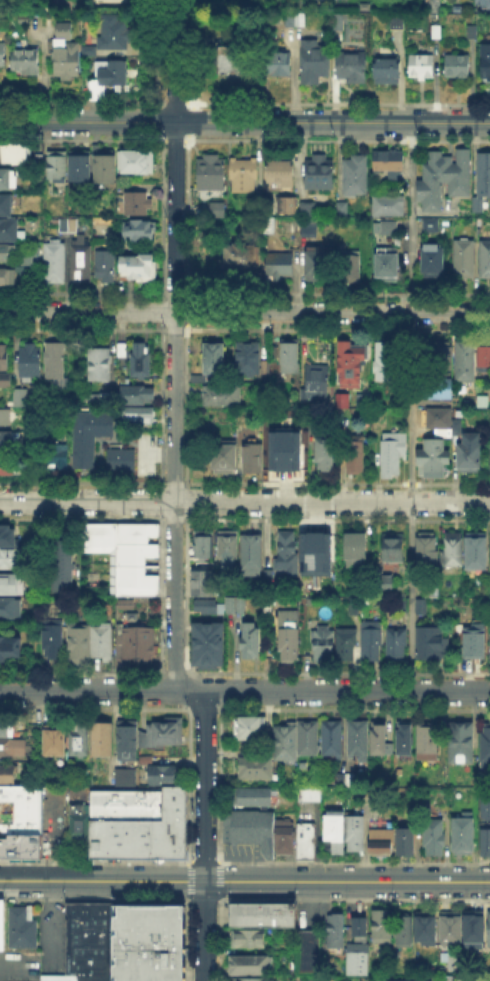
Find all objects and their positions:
building: (485, 3)
building: (435, 5)
building: (295, 21)
building: (397, 23)
building: (339, 24)
building: (65, 33)
building: (439, 33)
building: (115, 34)
building: (473, 34)
building: (92, 52)
building: (3, 56)
building: (231, 61)
building: (28, 63)
building: (68, 63)
building: (315, 63)
building: (278, 64)
building: (486, 64)
building: (422, 68)
building: (457, 68)
building: (350, 70)
building: (387, 70)
building: (107, 80)
road: (245, 122)
building: (12, 154)
building: (37, 160)
building: (136, 163)
building: (106, 166)
building: (391, 166)
building: (55, 168)
building: (81, 168)
building: (320, 173)
building: (212, 174)
building: (279, 174)
building: (243, 176)
building: (355, 177)
building: (445, 179)
building: (9, 180)
building: (483, 181)
building: (7, 205)
building: (138, 205)
building: (389, 206)
building: (288, 207)
building: (215, 209)
building: (309, 211)
building: (343, 211)
building: (67, 226)
building: (306, 226)
building: (430, 227)
building: (9, 229)
building: (140, 231)
building: (389, 232)
building: (5, 255)
building: (34, 256)
building: (244, 258)
building: (465, 260)
building: (485, 261)
building: (313, 262)
building: (82, 263)
building: (433, 263)
building: (55, 264)
building: (387, 265)
building: (106, 267)
building: (281, 268)
building: (348, 269)
building: (140, 270)
building: (24, 273)
building: (7, 280)
road: (244, 311)
road: (174, 344)
building: (123, 352)
building: (438, 357)
building: (247, 358)
building: (291, 358)
building: (31, 359)
building: (213, 359)
building: (485, 359)
building: (141, 362)
building: (465, 362)
building: (386, 364)
building: (5, 365)
building: (101, 365)
building: (57, 366)
building: (352, 366)
building: (266, 368)
building: (317, 380)
building: (436, 390)
building: (137, 396)
building: (222, 396)
building: (103, 397)
building: (21, 399)
building: (365, 402)
building: (343, 403)
road: (410, 406)
building: (6, 418)
building: (138, 418)
building: (440, 420)
building: (86, 434)
building: (6, 442)
building: (326, 453)
building: (275, 454)
building: (355, 454)
building: (54, 455)
building: (470, 455)
building: (393, 456)
building: (434, 457)
building: (489, 457)
building: (118, 458)
building: (223, 458)
building: (252, 460)
building: (7, 466)
road: (244, 500)
building: (7, 535)
building: (205, 545)
building: (319, 549)
building: (393, 550)
building: (228, 552)
building: (356, 552)
building: (453, 552)
building: (427, 553)
building: (476, 553)
building: (253, 554)
building: (288, 555)
building: (10, 558)
building: (121, 561)
building: (60, 568)
building: (380, 576)
building: (201, 583)
building: (269, 583)
building: (12, 586)
building: (310, 590)
building: (236, 606)
building: (208, 608)
building: (354, 609)
building: (11, 611)
building: (288, 636)
building: (54, 641)
building: (489, 641)
building: (81, 642)
building: (102, 643)
building: (251, 643)
building: (370, 643)
building: (474, 643)
building: (136, 644)
building: (323, 644)
building: (346, 645)
building: (396, 645)
building: (432, 646)
building: (210, 647)
building: (10, 650)
road: (244, 690)
road: (222, 696)
road: (189, 698)
building: (11, 729)
building: (251, 729)
building: (165, 734)
building: (379, 738)
building: (129, 739)
building: (333, 739)
building: (55, 740)
building: (80, 741)
building: (104, 741)
building: (358, 741)
building: (405, 741)
building: (297, 742)
building: (427, 744)
building: (462, 745)
building: (485, 746)
building: (12, 749)
building: (257, 768)
building: (8, 773)
building: (164, 775)
building: (122, 779)
building: (346, 780)
road: (220, 783)
road: (188, 785)
building: (307, 794)
building: (253, 798)
building: (484, 803)
building: (19, 808)
building: (76, 822)
building: (137, 823)
building: (248, 828)
road: (205, 835)
building: (345, 835)
building: (465, 835)
building: (288, 837)
building: (484, 838)
building: (303, 839)
building: (381, 840)
building: (435, 840)
building: (406, 841)
building: (19, 844)
road: (96, 862)
road: (206, 862)
road: (354, 863)
road: (188, 880)
road: (220, 880)
road: (244, 881)
road: (96, 901)
road: (205, 902)
road: (353, 902)
building: (263, 916)
building: (1, 923)
building: (20, 925)
building: (383, 927)
building: (361, 928)
building: (487, 928)
building: (451, 929)
building: (427, 930)
building: (404, 931)
building: (336, 932)
building: (474, 933)
road: (189, 939)
road: (219, 939)
building: (247, 939)
building: (87, 940)
building: (149, 942)
building: (309, 953)
building: (358, 961)
building: (252, 966)
building: (57, 977)
building: (251, 978)
building: (463, 978)
building: (304, 979)
building: (403, 980)

